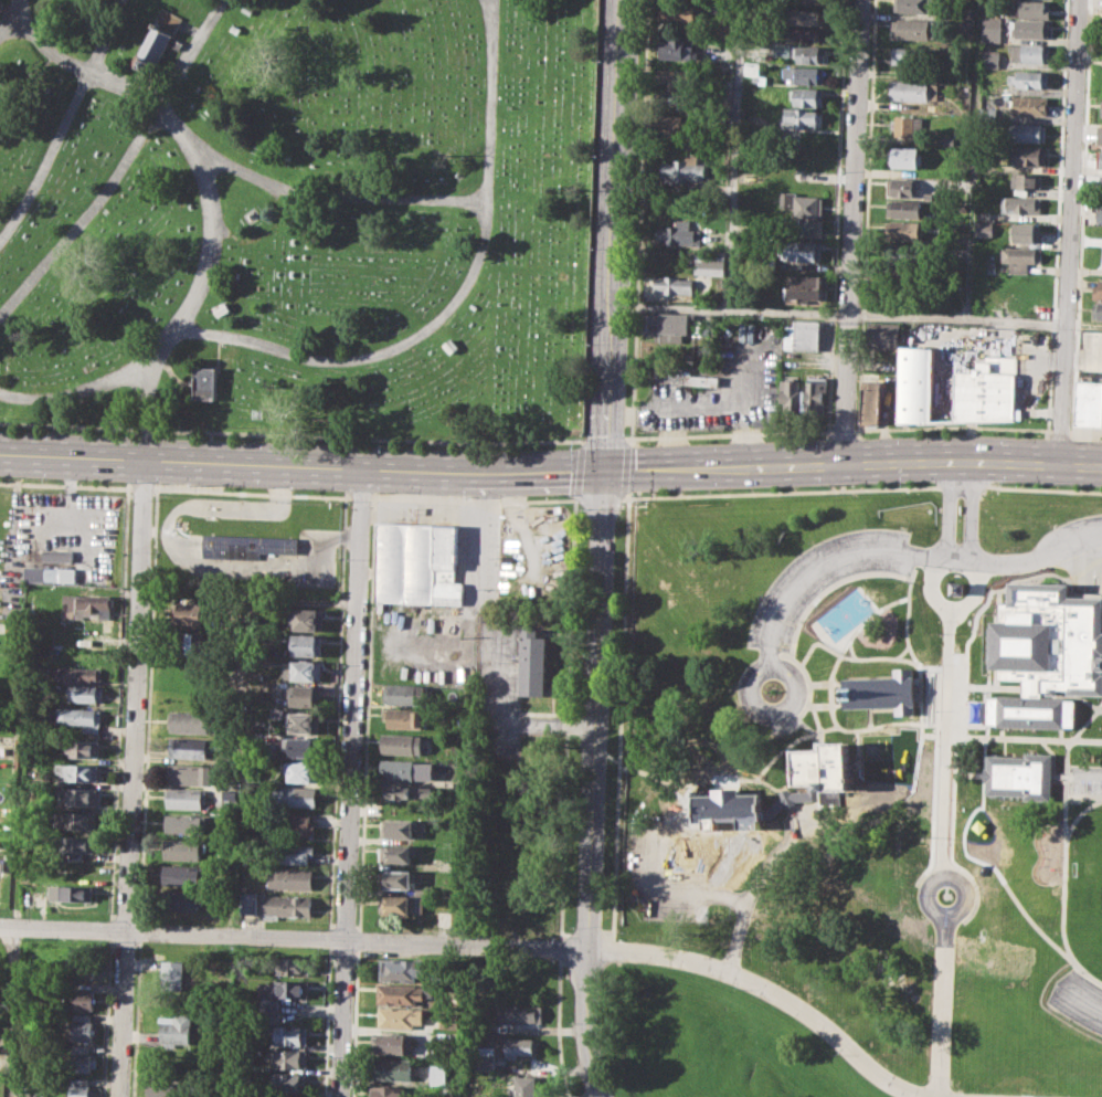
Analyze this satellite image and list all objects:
building: (809, 1)
building: (913, 6)
road: (13, 7)
building: (1029, 8)
building: (680, 12)
road: (487, 14)
building: (805, 17)
building: (963, 20)
building: (913, 29)
building: (992, 29)
building: (1029, 29)
building: (723, 31)
building: (807, 33)
building: (158, 41)
building: (677, 49)
building: (802, 52)
building: (1031, 52)
building: (911, 56)
building: (989, 59)
building: (751, 67)
building: (803, 74)
building: (676, 77)
building: (1030, 78)
building: (762, 80)
building: (908, 91)
building: (806, 96)
building: (675, 99)
building: (1029, 105)
building: (1101, 108)
building: (801, 118)
road: (64, 123)
building: (676, 125)
building: (904, 125)
building: (1026, 131)
building: (1099, 135)
building: (1028, 155)
building: (904, 157)
road: (971, 158)
building: (1100, 159)
road: (123, 166)
building: (685, 169)
building: (1025, 180)
road: (208, 186)
building: (1100, 186)
building: (900, 187)
road: (336, 196)
building: (802, 204)
building: (1018, 204)
building: (903, 209)
road: (730, 212)
building: (982, 214)
building: (1099, 215)
park: (299, 219)
building: (983, 226)
building: (803, 228)
road: (851, 229)
building: (902, 230)
road: (1069, 230)
building: (1025, 231)
building: (679, 233)
building: (801, 250)
building: (901, 253)
building: (1019, 257)
building: (709, 264)
building: (802, 286)
building: (670, 287)
building: (1096, 291)
building: (1096, 310)
road: (896, 316)
building: (666, 326)
building: (801, 335)
building: (882, 335)
road: (375, 352)
building: (704, 380)
building: (204, 382)
building: (914, 383)
building: (987, 390)
building: (788, 392)
building: (814, 393)
building: (870, 401)
building: (1089, 401)
road: (699, 412)
road: (551, 468)
traffic signals: (605, 468)
road: (65, 484)
road: (962, 485)
road: (139, 487)
road: (1042, 488)
road: (780, 491)
road: (250, 493)
road: (359, 496)
road: (598, 498)
road: (471, 500)
road: (972, 508)
road: (947, 509)
parking lot: (1070, 538)
building: (244, 545)
road: (602, 549)
road: (902, 553)
building: (55, 555)
building: (417, 563)
road: (958, 566)
building: (39, 573)
building: (64, 574)
parking lot: (823, 578)
building: (955, 588)
road: (952, 603)
road: (975, 603)
building: (85, 605)
road: (806, 609)
road: (908, 609)
building: (191, 614)
building: (307, 619)
road: (951, 626)
road: (957, 627)
building: (198, 643)
building: (306, 645)
road: (850, 648)
road: (901, 651)
building: (1045, 651)
road: (881, 656)
road: (967, 658)
building: (533, 663)
building: (301, 669)
building: (77, 675)
road: (807, 684)
road: (981, 689)
building: (882, 692)
building: (84, 693)
building: (403, 693)
building: (305, 696)
road: (1087, 699)
road: (807, 703)
road: (929, 703)
road: (785, 707)
road: (831, 711)
building: (80, 716)
road: (816, 717)
building: (403, 718)
road: (1087, 719)
building: (191, 721)
building: (304, 722)
road: (1006, 737)
road: (1079, 739)
building: (401, 743)
building: (301, 746)
building: (187, 747)
road: (856, 747)
building: (81, 748)
building: (824, 766)
road: (1066, 767)
building: (406, 770)
building: (77, 771)
building: (303, 772)
building: (190, 773)
building: (1019, 774)
road: (130, 776)
road: (1088, 776)
parking lot: (1084, 778)
road: (719, 779)
road: (953, 779)
road: (350, 781)
road: (670, 788)
building: (406, 791)
road: (783, 792)
building: (229, 794)
building: (78, 795)
building: (295, 795)
building: (186, 798)
building: (728, 803)
road: (681, 810)
road: (1078, 813)
building: (74, 820)
building: (184, 822)
building: (294, 824)
building: (398, 829)
road: (679, 834)
road: (951, 834)
building: (729, 835)
building: (78, 844)
building: (182, 848)
building: (293, 852)
building: (396, 853)
building: (77, 868)
parking lot: (663, 873)
building: (182, 875)
building: (290, 878)
building: (395, 878)
road: (1062, 878)
building: (425, 889)
building: (72, 892)
road: (670, 892)
road: (753, 892)
building: (181, 900)
building: (248, 901)
building: (401, 905)
building: (286, 906)
road: (293, 936)
building: (295, 966)
building: (86, 967)
building: (400, 969)
building: (173, 973)
building: (280, 992)
road: (772, 992)
building: (399, 993)
road: (941, 995)
parking lot: (1079, 998)
building: (84, 999)
road: (1081, 999)
road: (10, 1011)
building: (517, 1012)
road: (557, 1014)
building: (400, 1017)
building: (83, 1027)
building: (176, 1029)
building: (290, 1035)
park: (710, 1041)
building: (388, 1042)
building: (515, 1046)
building: (83, 1058)
building: (288, 1059)
building: (392, 1068)
building: (436, 1074)
building: (287, 1082)
building: (519, 1086)
building: (167, 1087)
building: (81, 1090)
building: (388, 1090)
building: (282, 1096)

